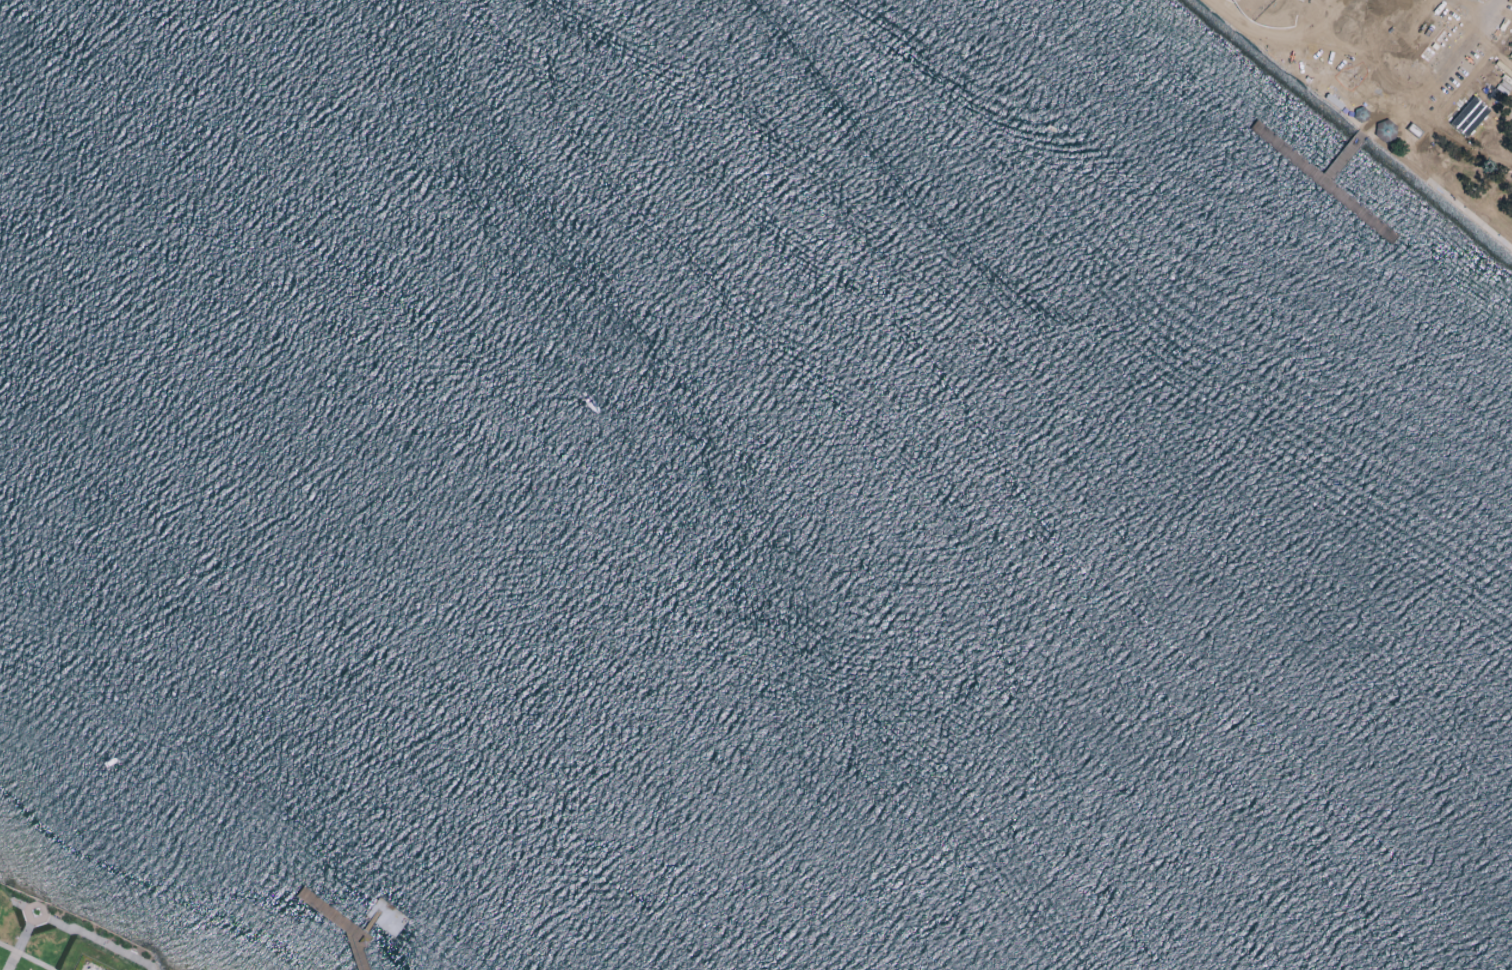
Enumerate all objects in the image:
road: (1226, 11)
road: (1284, 33)
road: (1384, 33)
road: (1470, 33)
parking lot: (1431, 56)
road: (1356, 62)
park: (1406, 85)
road: (1457, 96)
road: (1415, 100)
road: (1380, 113)
building: (1362, 116)
park: (1510, 117)
road: (1358, 126)
building: (1385, 131)
pier: (1326, 179)
road: (26, 909)
pier: (386, 919)
pier: (367, 929)
pier: (341, 930)
road: (362, 935)
park: (54, 937)
road: (100, 941)
road: (18, 946)
road: (23, 958)

